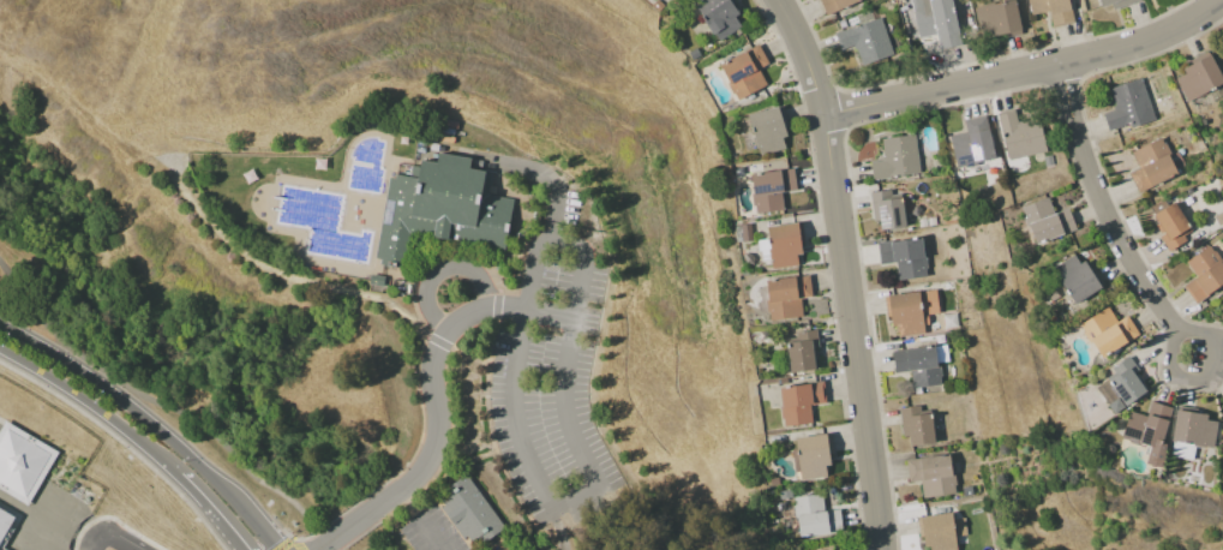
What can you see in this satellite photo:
building: (1114, 2)
building: (832, 5)
building: (1050, 10)
building: (717, 16)
building: (994, 18)
building: (934, 20)
building: (865, 40)
road: (810, 60)
building: (742, 71)
building: (1197, 78)
road: (1030, 84)
building: (1126, 104)
building: (766, 128)
building: (1018, 134)
building: (970, 142)
building: (894, 157)
building: (1149, 165)
building: (768, 189)
building: (439, 207)
building: (887, 208)
road: (1103, 211)
building: (1043, 220)
building: (1169, 223)
building: (783, 245)
road: (581, 256)
building: (901, 257)
road: (528, 265)
road: (438, 269)
building: (1203, 273)
building: (1074, 277)
building: (784, 295)
building: (910, 310)
building: (1105, 330)
road: (856, 336)
building: (918, 363)
road: (1210, 375)
parking lot: (552, 382)
building: (1117, 385)
road: (170, 389)
building: (797, 401)
road: (150, 422)
building: (915, 424)
building: (1145, 425)
road: (437, 429)
building: (1189, 431)
building: (1222, 432)
road: (131, 436)
building: (810, 456)
building: (24, 461)
building: (929, 473)
road: (556, 508)
building: (467, 512)
building: (813, 516)
road: (420, 519)
building: (7, 528)
building: (939, 531)
road: (110, 542)
road: (569, 543)

